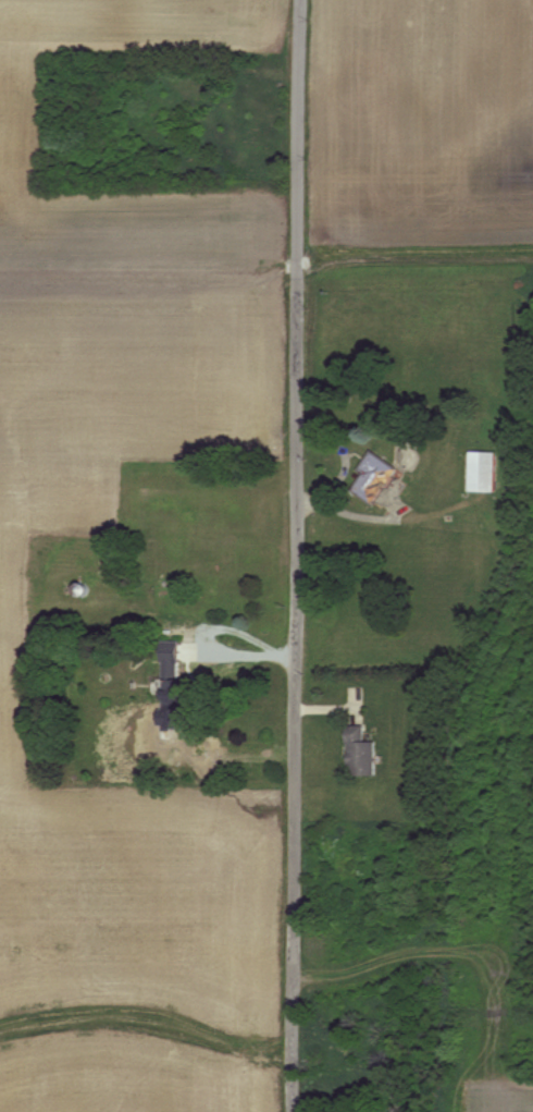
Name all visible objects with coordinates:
road: (299, 139)
building: (481, 471)
building: (374, 476)
building: (174, 676)
road: (296, 696)
building: (360, 751)

